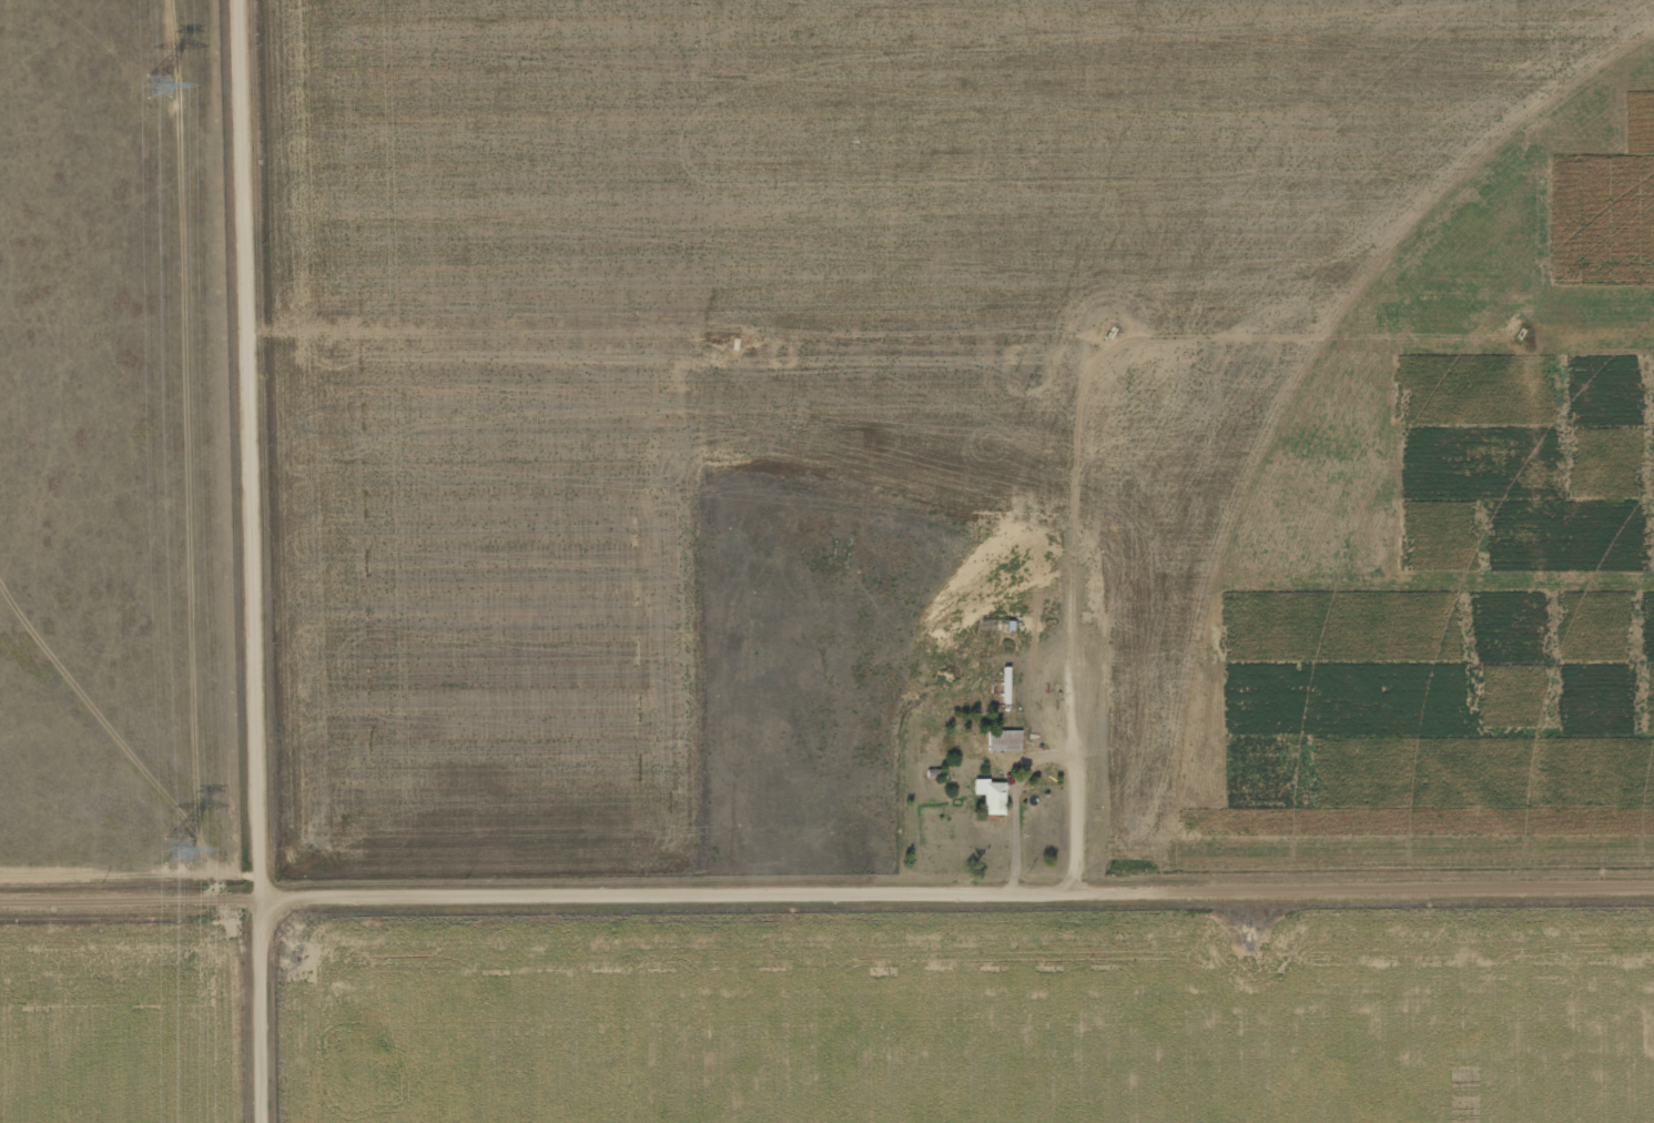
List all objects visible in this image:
power tower: (158, 85)
road: (904, 332)
road: (256, 560)
road: (1100, 613)
building: (987, 795)
power tower: (175, 851)
road: (826, 891)

